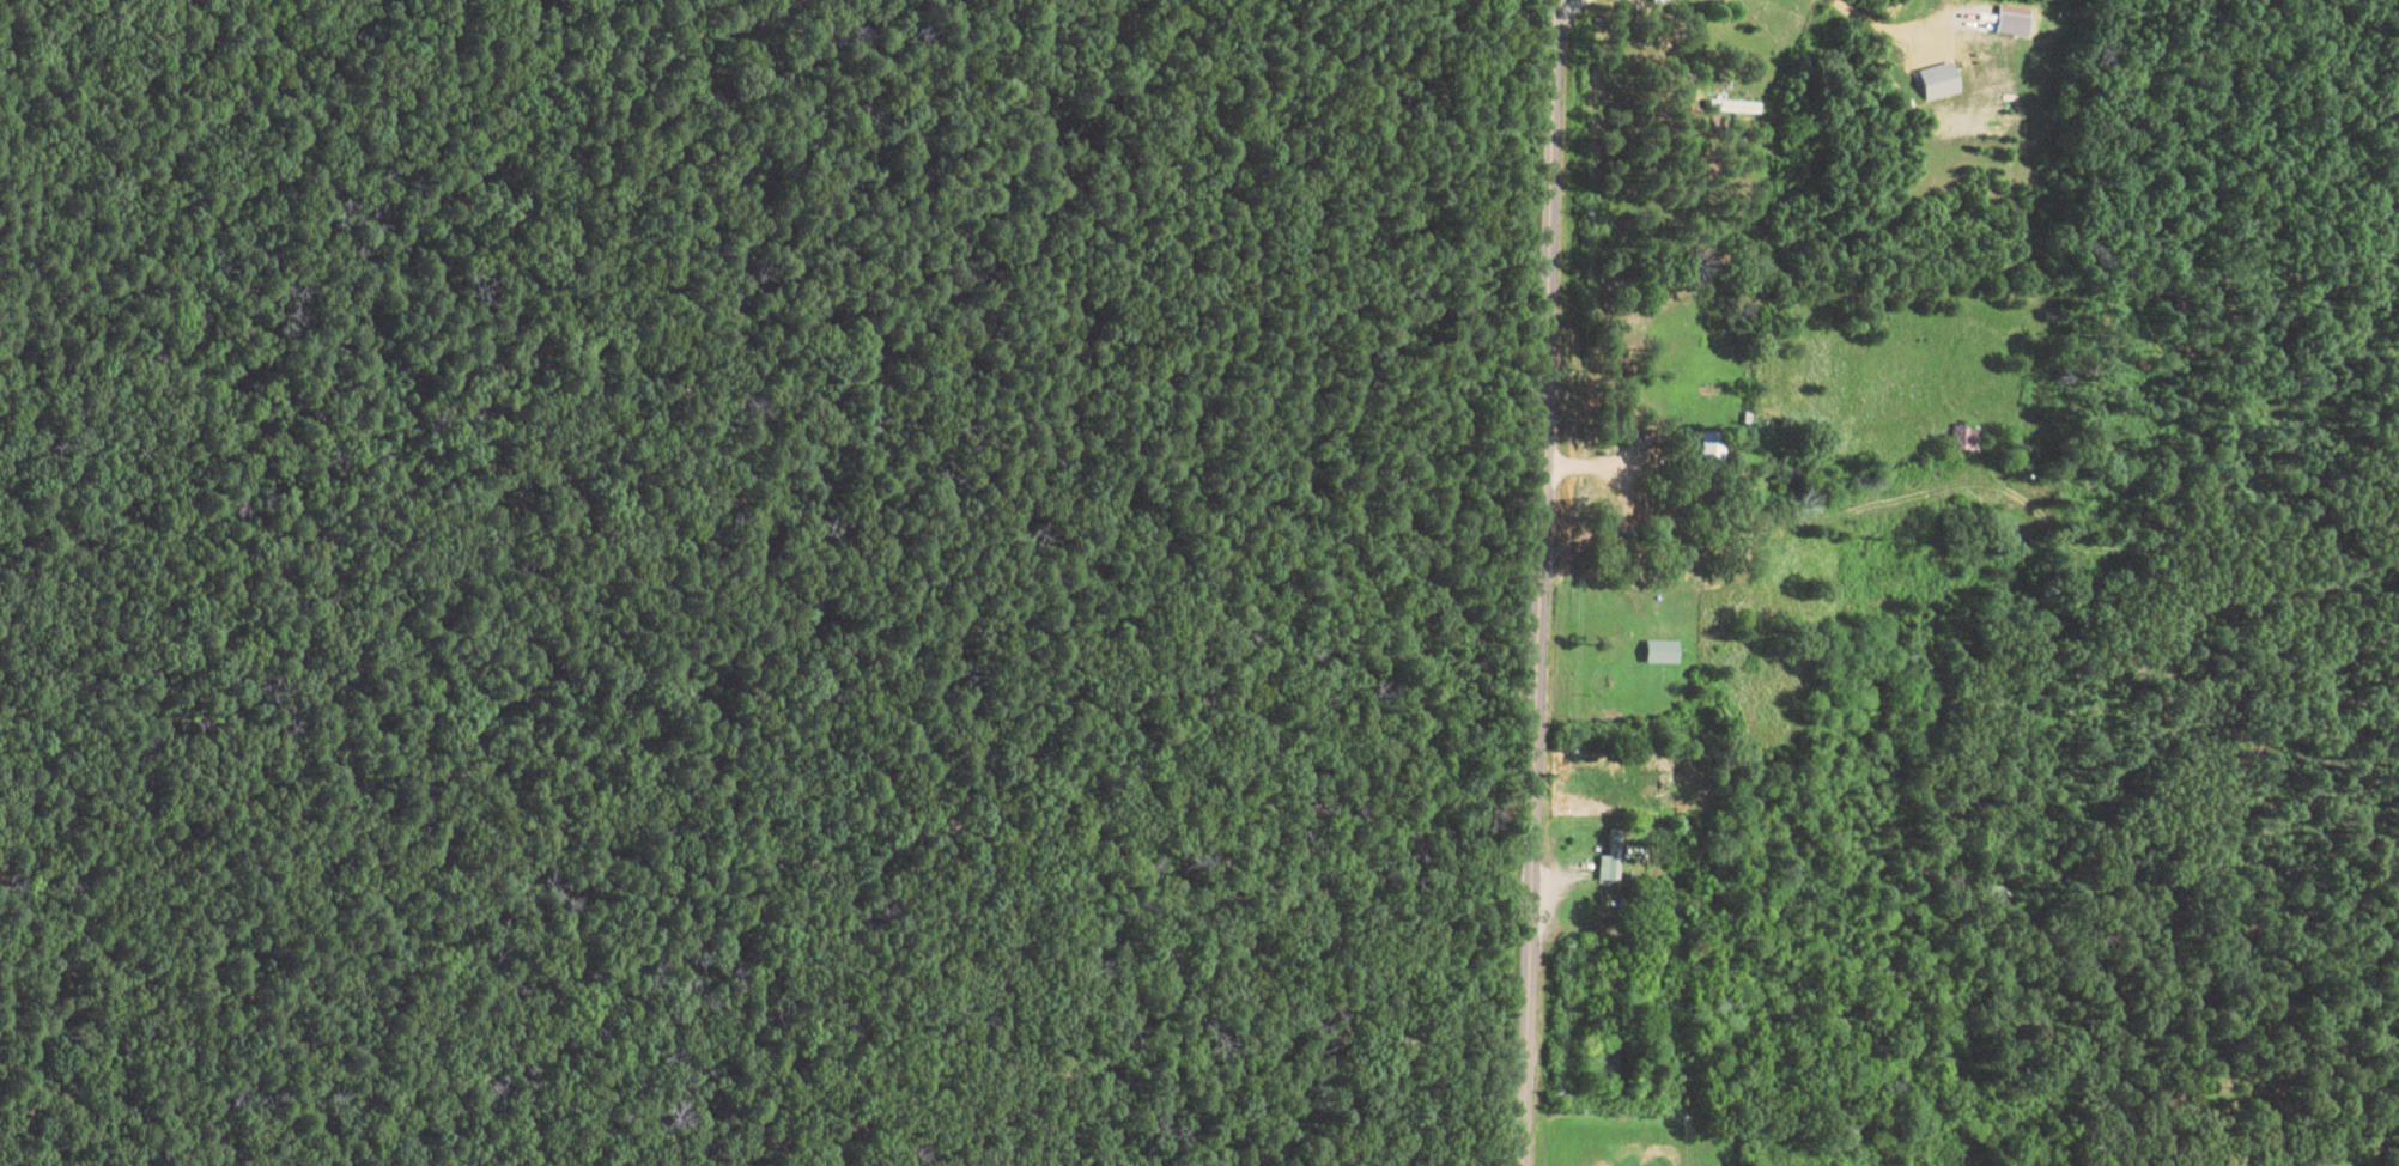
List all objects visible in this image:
building: (1672, 1)
building: (1743, 110)
building: (1968, 438)
building: (1709, 560)
road: (1538, 583)
building: (1615, 652)
building: (1611, 860)

